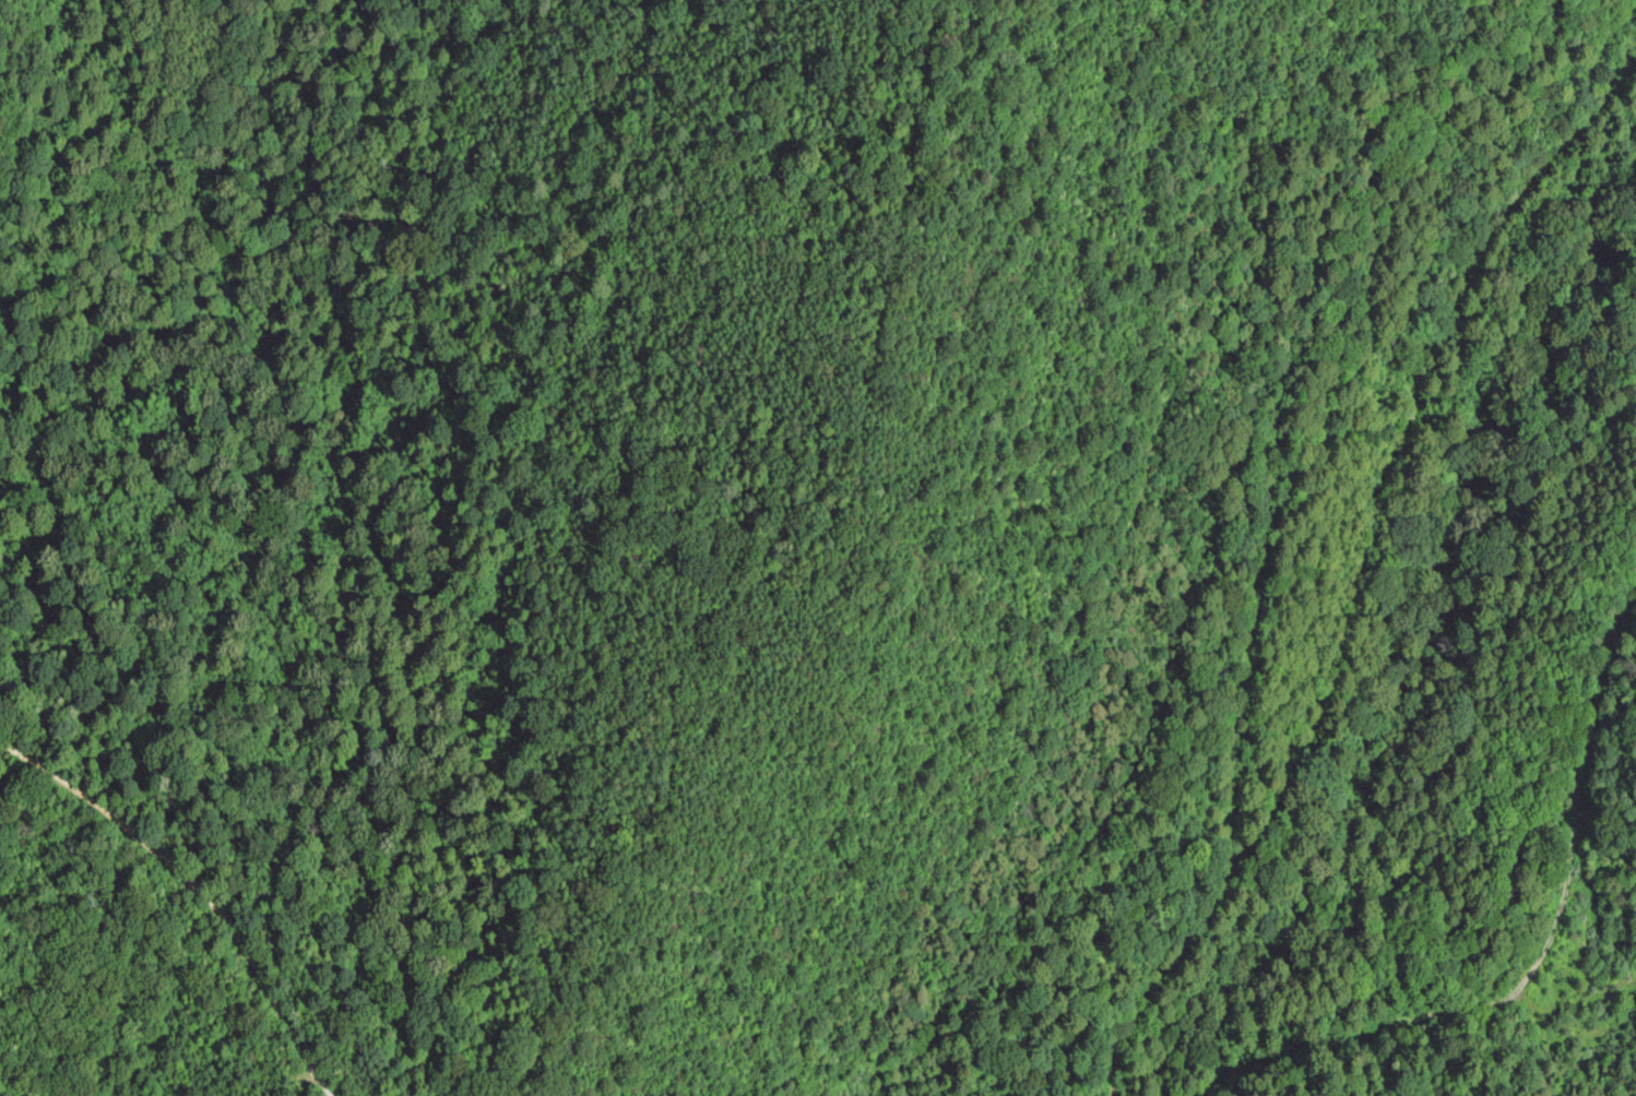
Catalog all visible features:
road: (189, 892)

